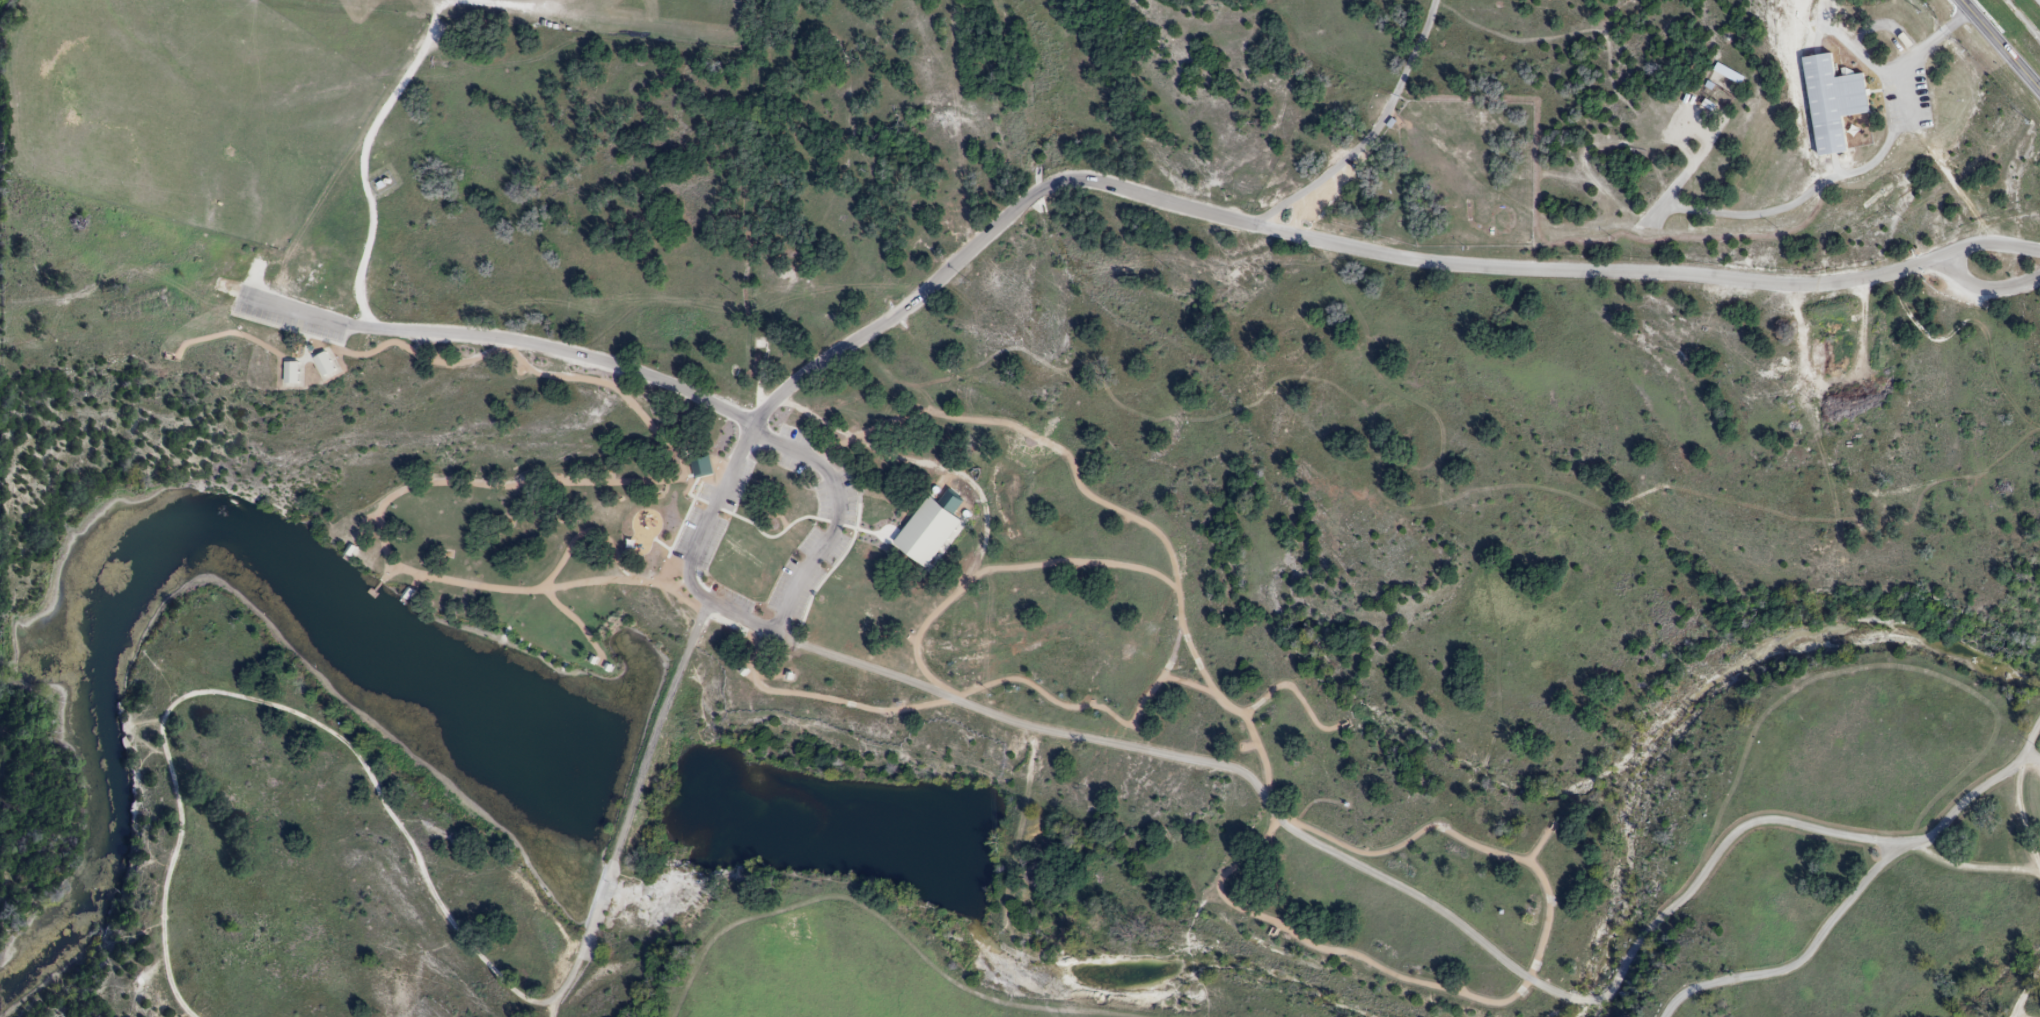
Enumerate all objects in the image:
road: (2002, 42)
building: (1832, 104)
road: (1821, 190)
road: (1983, 292)
road: (510, 343)
building: (757, 345)
road: (837, 511)
road: (706, 593)
road: (309, 716)
road: (897, 927)
road: (1798, 961)
road: (2022, 1006)
road: (550, 1007)

